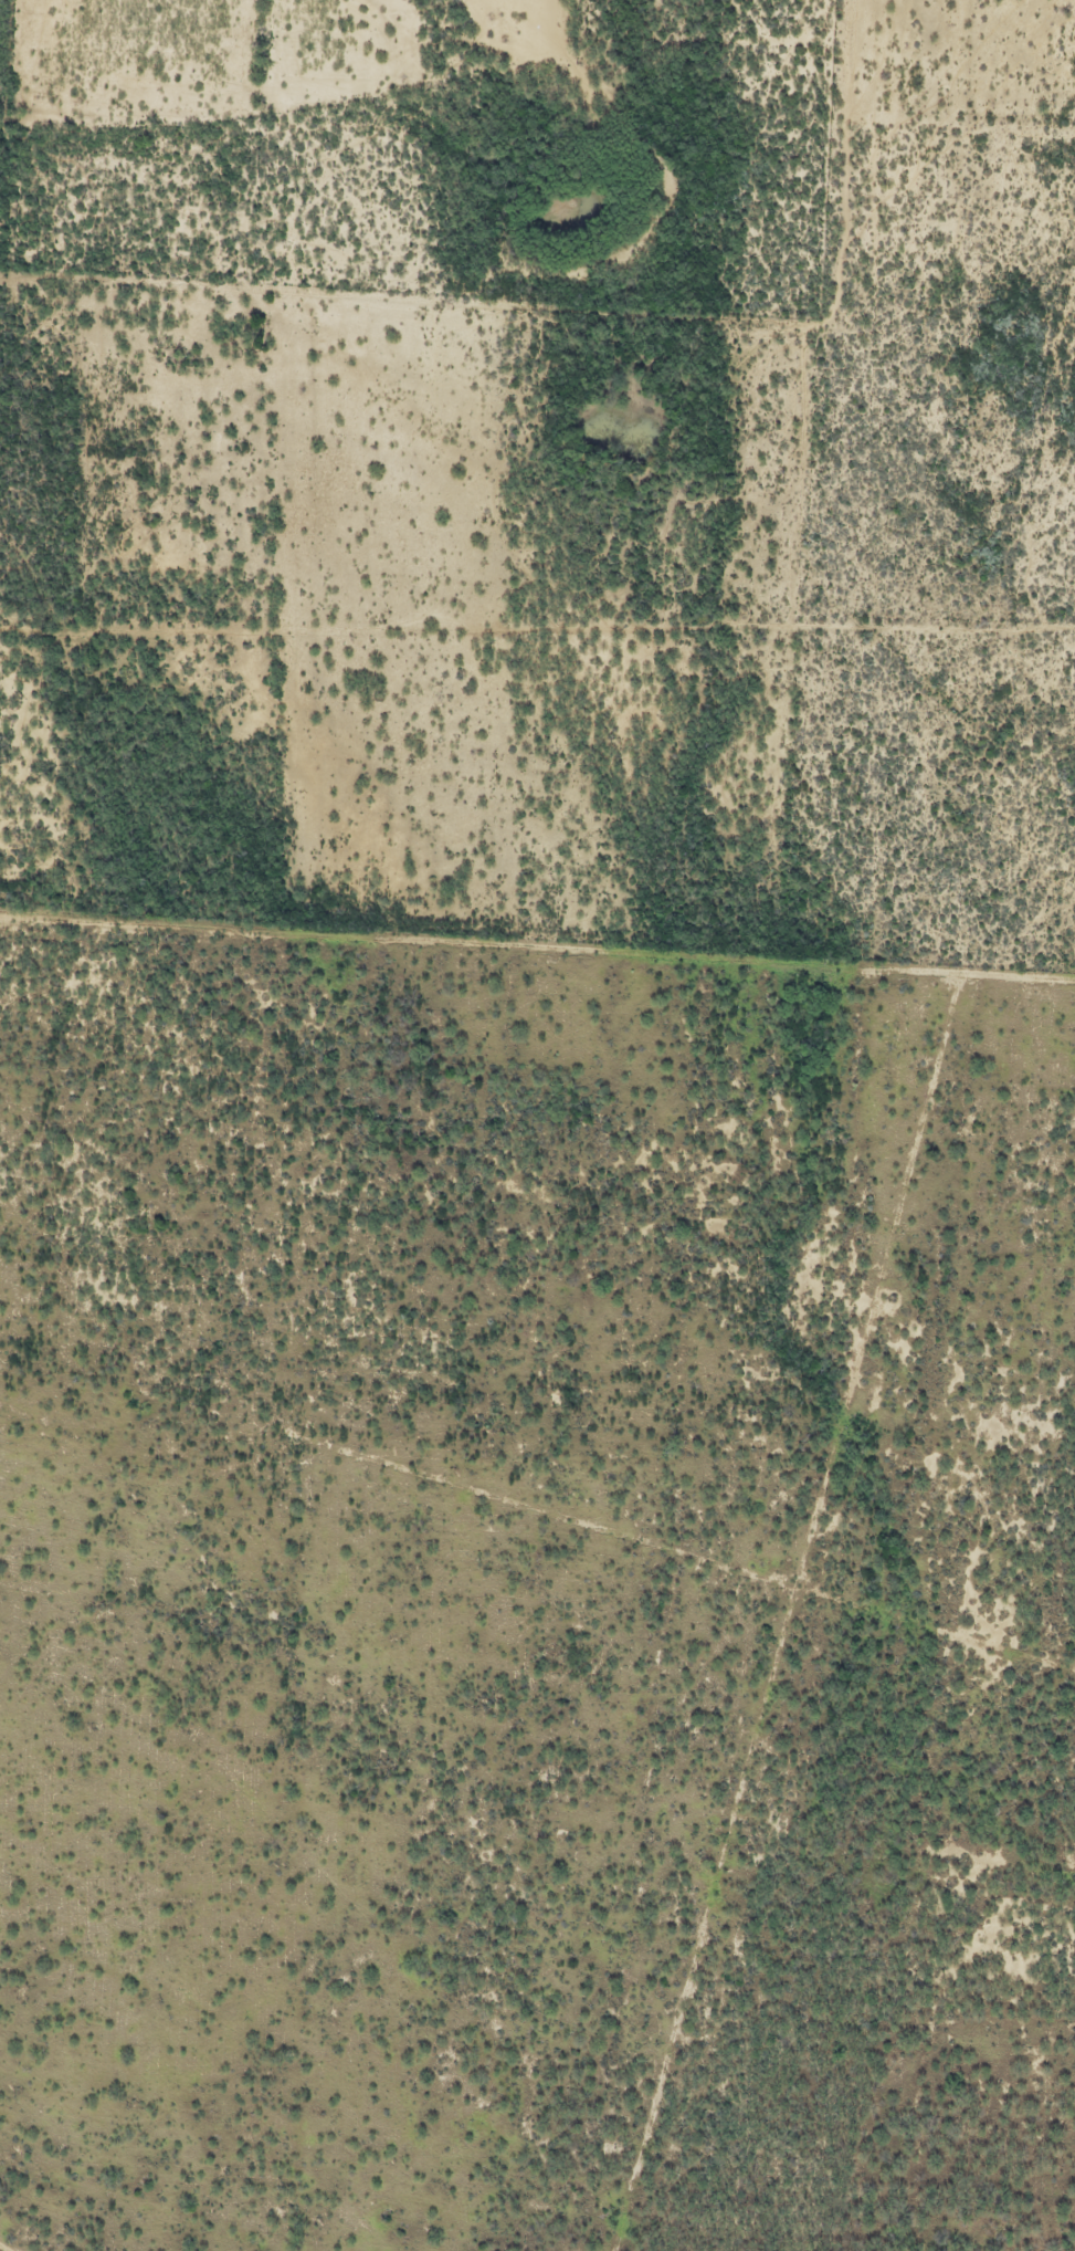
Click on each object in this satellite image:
road: (8, 2245)

